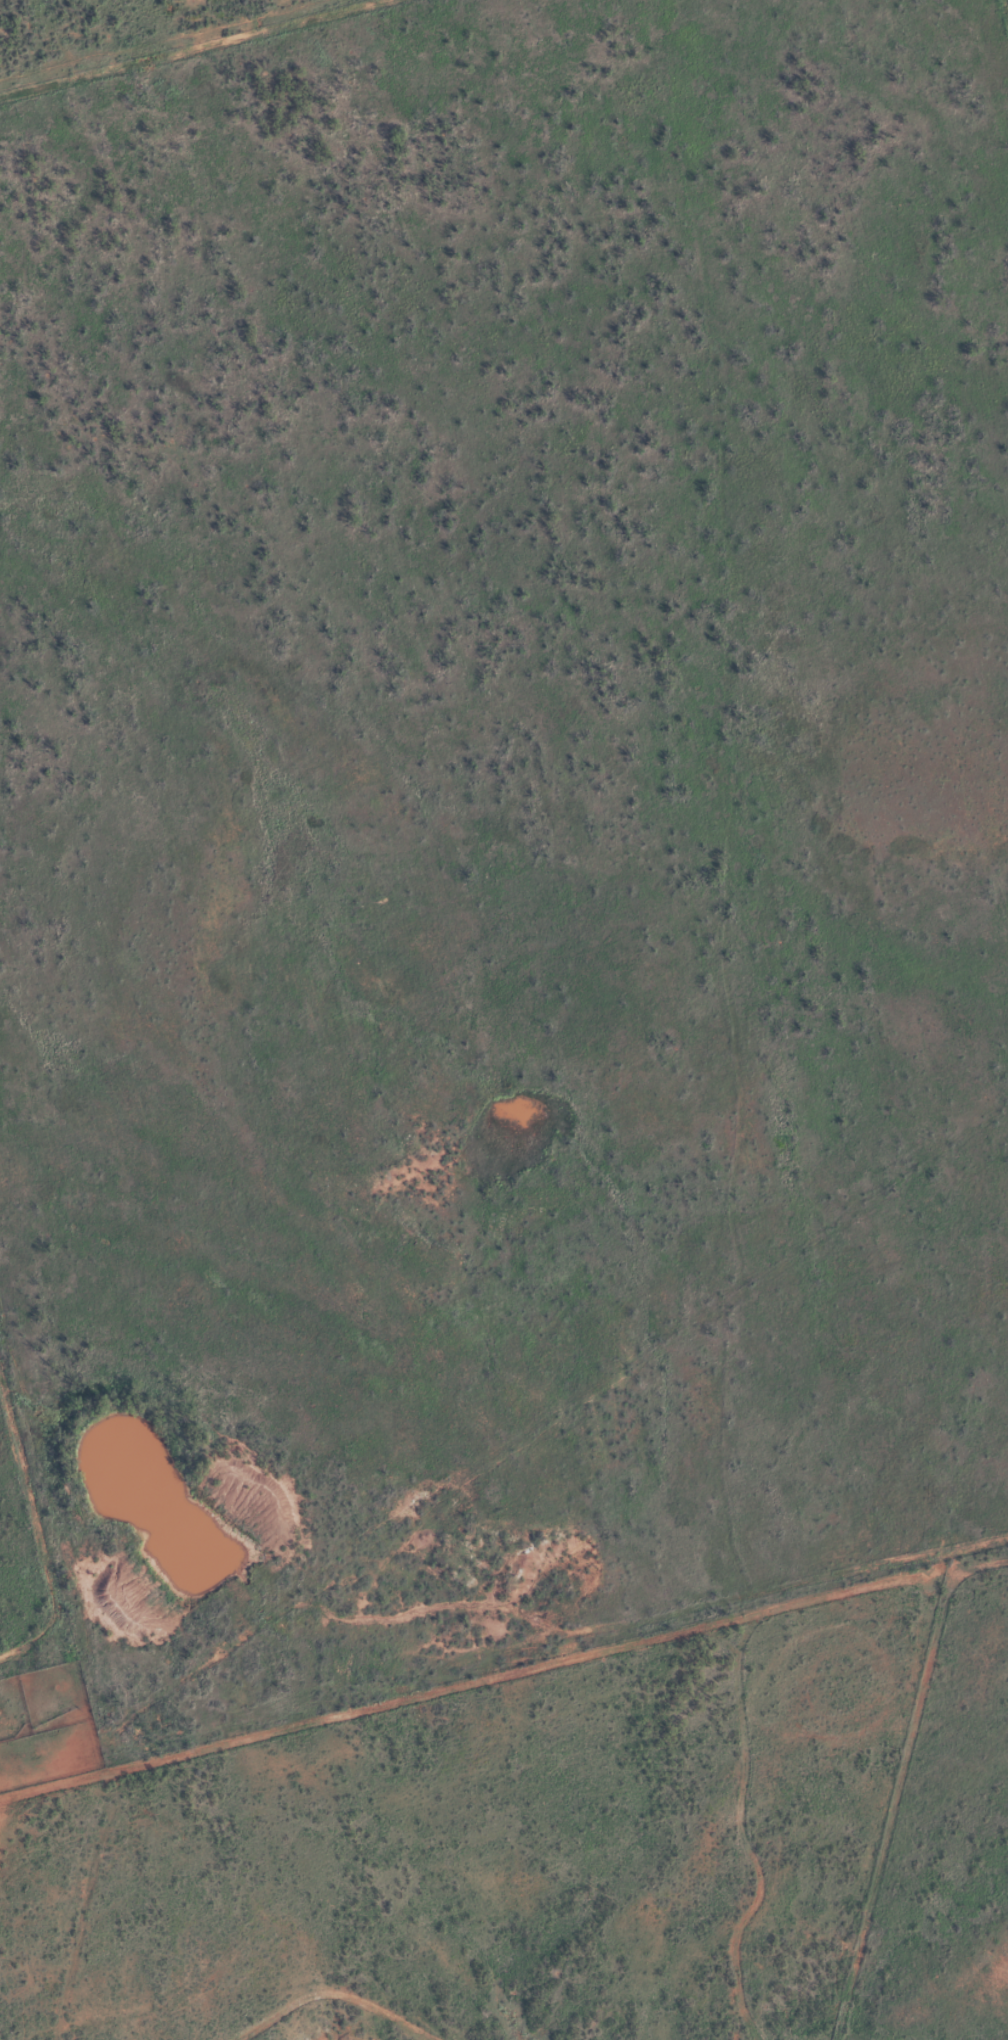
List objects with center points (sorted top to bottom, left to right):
road: (345, 2031)

